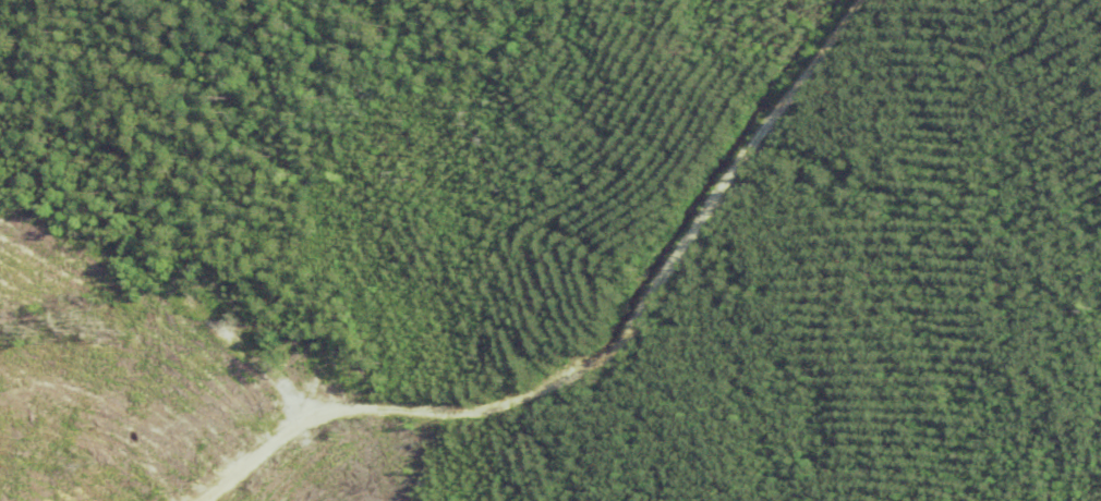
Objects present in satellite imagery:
road: (612, 355)

